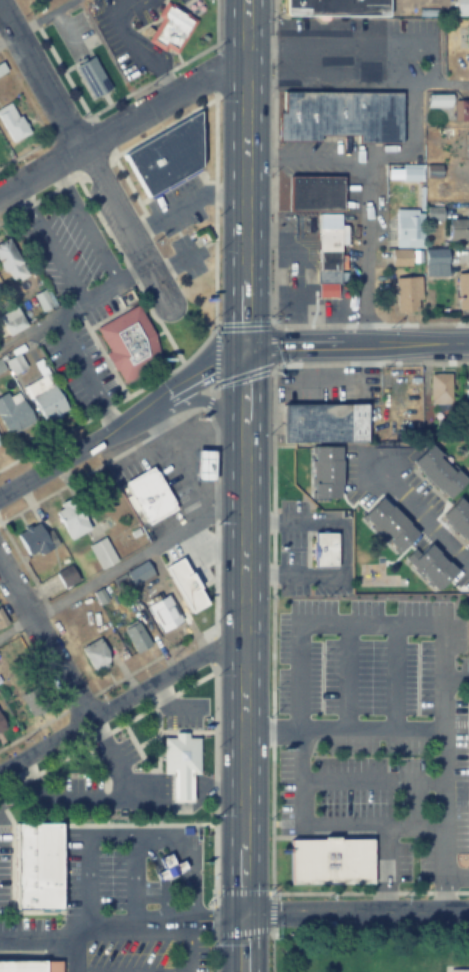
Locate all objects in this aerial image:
building: (40, 0)
building: (461, 6)
building: (337, 7)
road: (34, 20)
road: (214, 21)
building: (171, 26)
building: (466, 35)
road: (370, 38)
road: (128, 47)
parking lot: (359, 50)
road: (214, 68)
building: (1, 69)
road: (64, 69)
building: (91, 74)
road: (147, 78)
road: (326, 78)
building: (461, 111)
building: (341, 114)
road: (124, 120)
building: (11, 122)
road: (161, 125)
road: (100, 137)
building: (463, 146)
road: (84, 153)
building: (165, 153)
road: (360, 160)
road: (272, 161)
road: (90, 164)
building: (412, 172)
road: (242, 173)
road: (126, 185)
building: (316, 192)
road: (36, 195)
road: (182, 203)
road: (214, 210)
building: (409, 228)
building: (459, 230)
road: (153, 243)
building: (329, 250)
road: (362, 253)
building: (401, 257)
building: (436, 258)
building: (10, 262)
road: (172, 263)
road: (127, 267)
building: (463, 291)
building: (407, 294)
building: (42, 300)
road: (72, 306)
building: (11, 321)
road: (430, 322)
road: (309, 323)
road: (369, 323)
road: (242, 324)
building: (127, 341)
road: (271, 344)
road: (355, 346)
traffic signals: (242, 348)
road: (214, 354)
road: (424, 361)
road: (311, 362)
road: (365, 362)
road: (242, 373)
building: (439, 386)
building: (466, 387)
building: (45, 394)
road: (111, 401)
road: (121, 420)
building: (329, 423)
gas station: (204, 464)
building: (205, 465)
building: (441, 469)
building: (336, 476)
building: (148, 496)
building: (74, 516)
building: (458, 516)
road: (421, 520)
building: (391, 525)
building: (32, 538)
building: (198, 540)
building: (331, 548)
building: (100, 549)
building: (435, 566)
building: (139, 570)
building: (65, 574)
road: (68, 598)
building: (162, 611)
building: (2, 624)
building: (135, 636)
road: (42, 644)
building: (96, 651)
road: (240, 659)
building: (34, 697)
road: (117, 701)
building: (468, 719)
building: (2, 721)
building: (189, 762)
building: (330, 860)
building: (33, 866)
building: (167, 869)
road: (240, 890)
road: (354, 911)
road: (257, 929)
road: (270, 949)
park: (372, 951)
building: (29, 966)
building: (457, 971)

